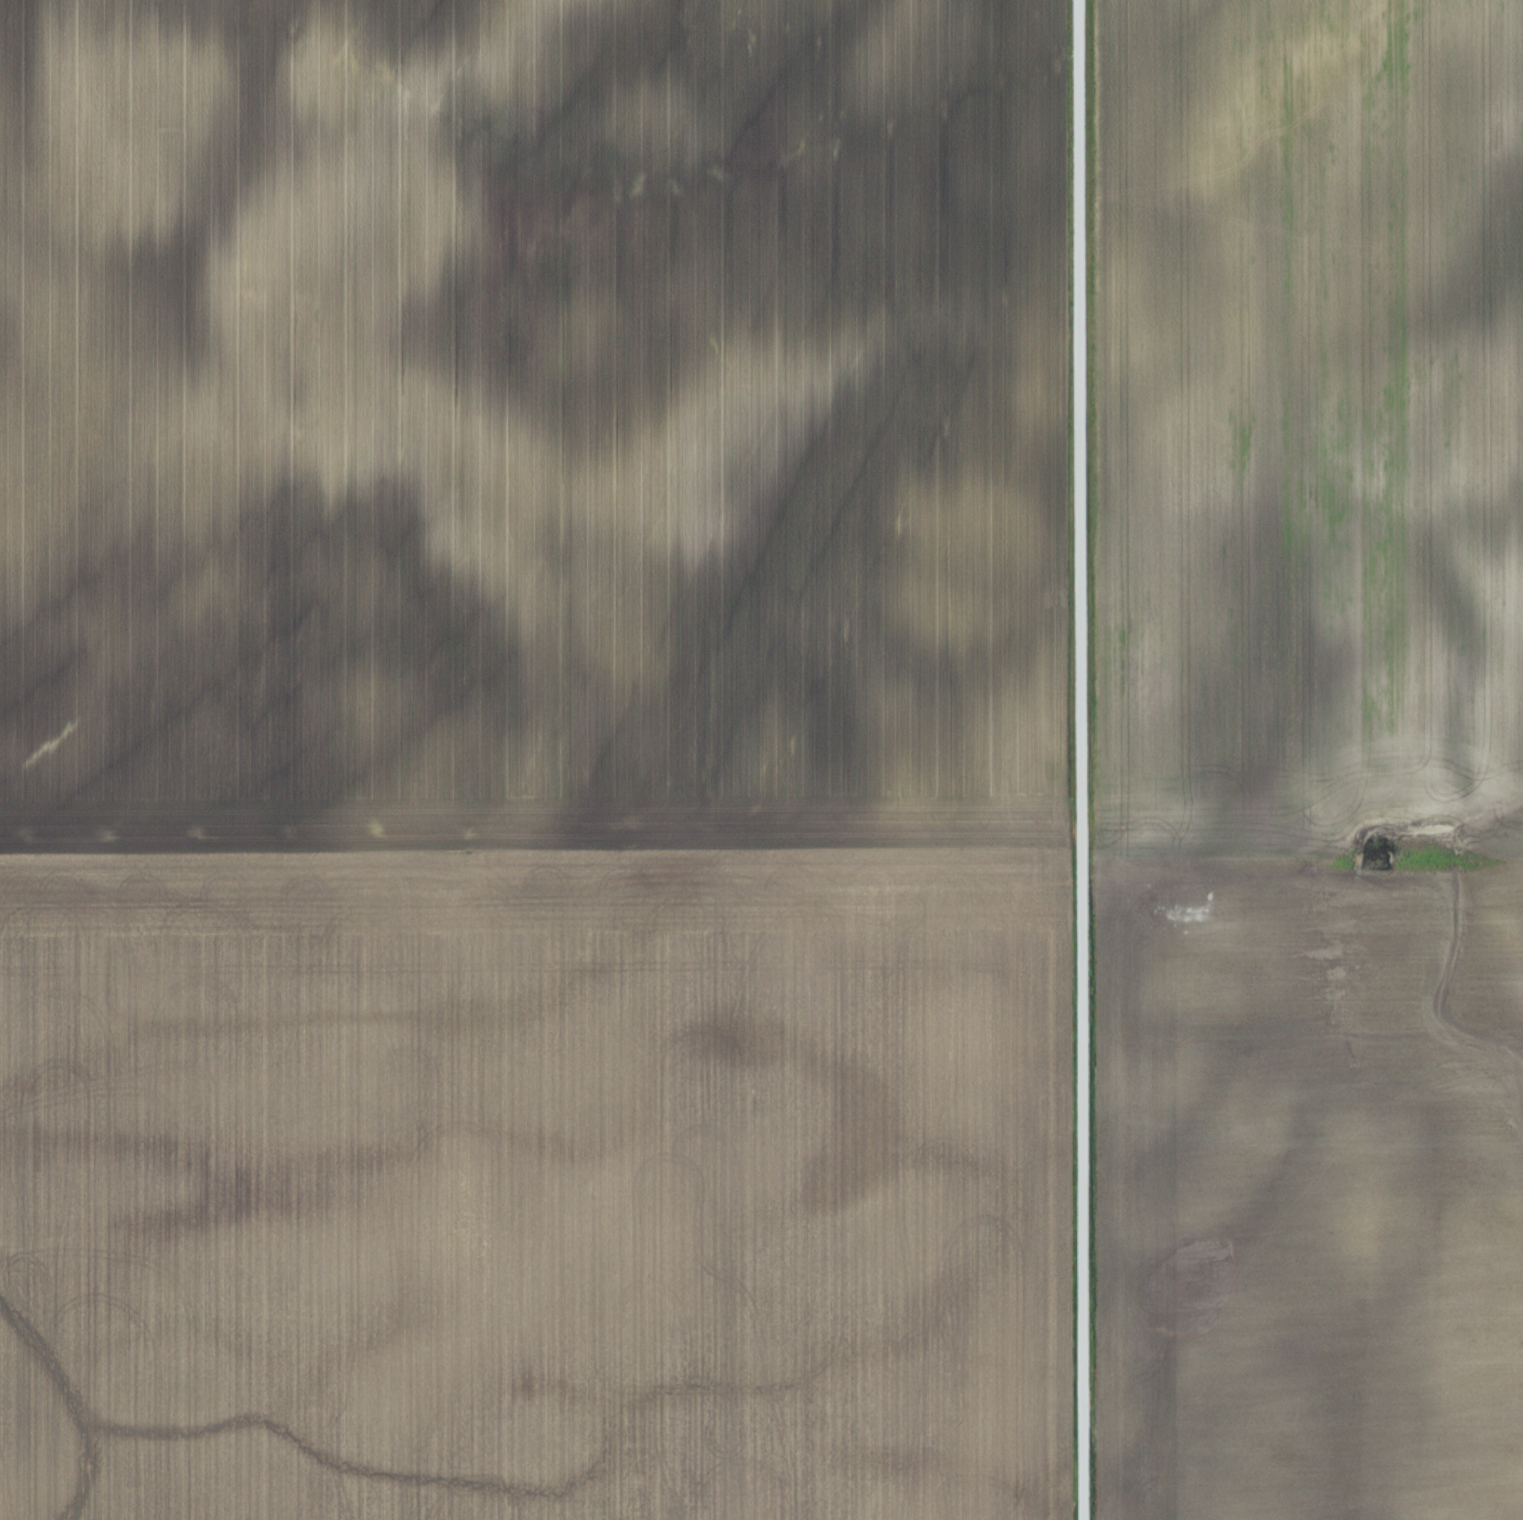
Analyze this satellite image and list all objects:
road: (1081, 760)

